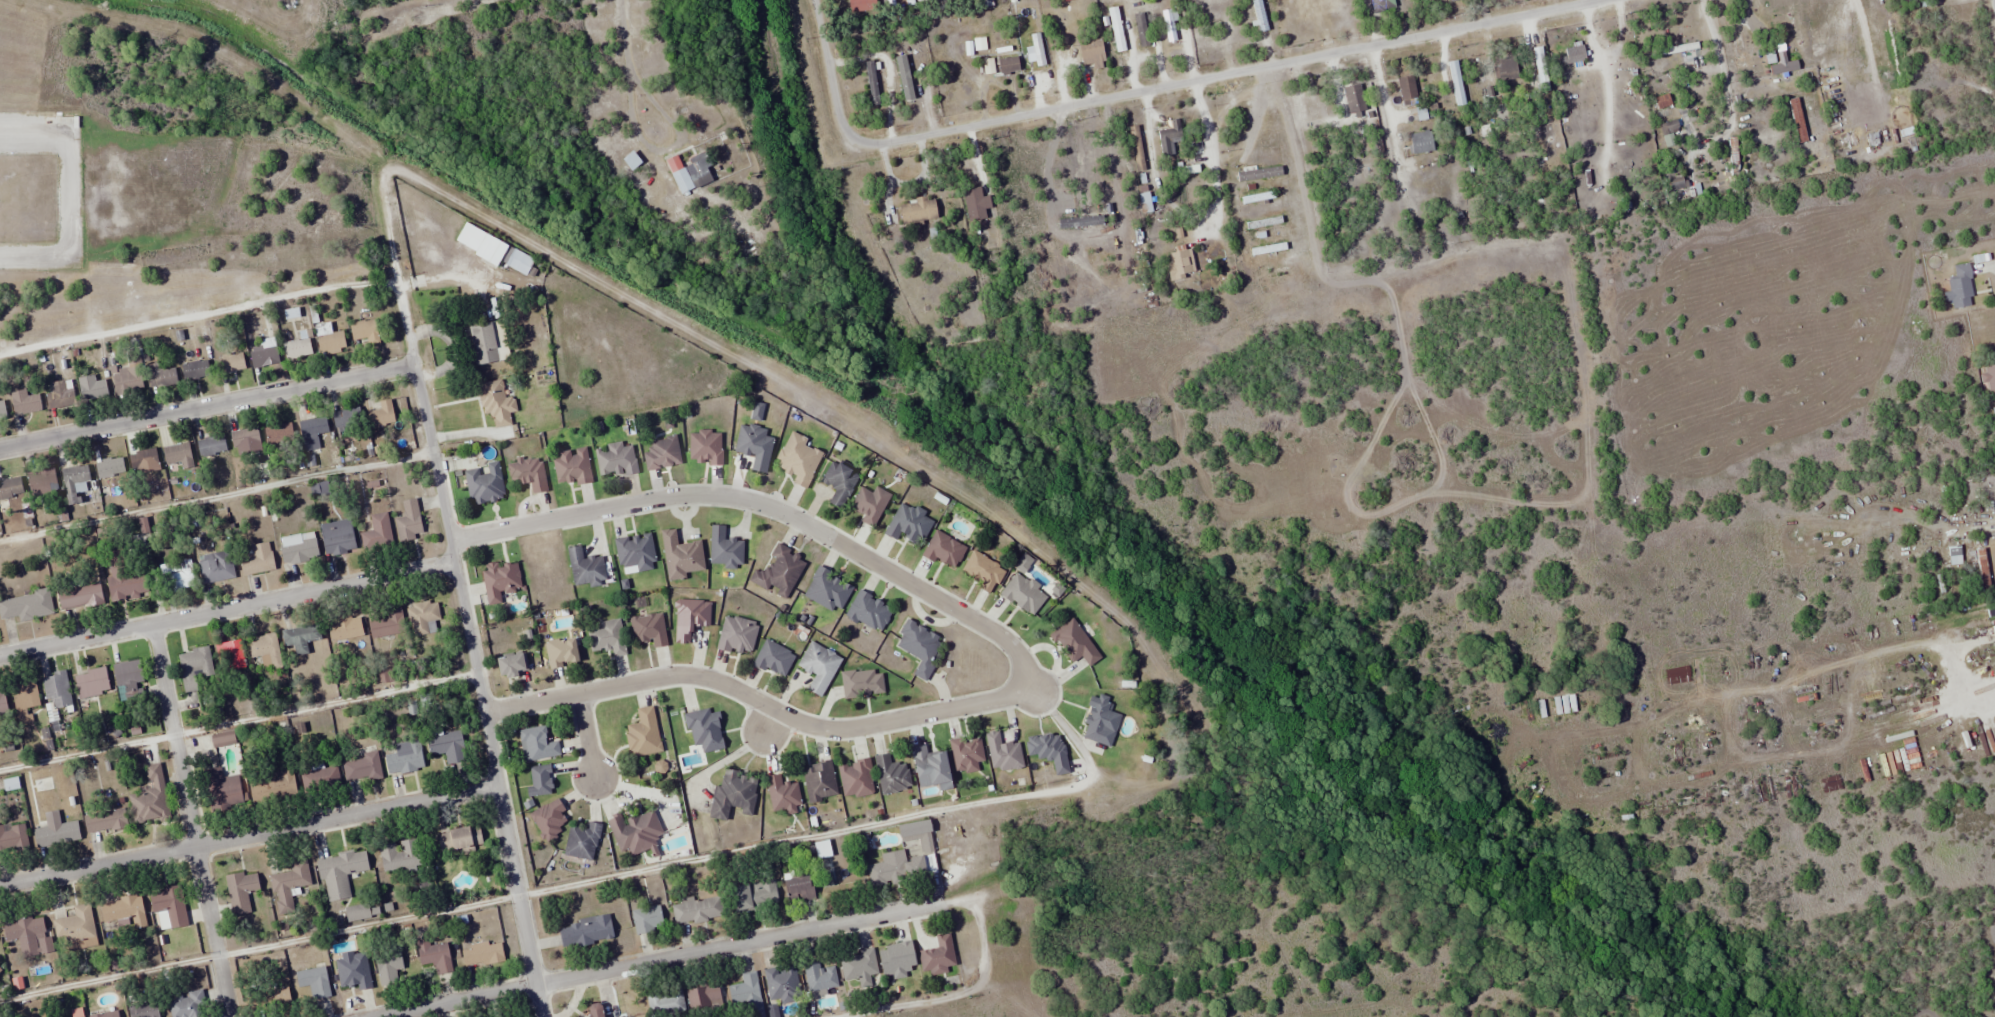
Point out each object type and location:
building: (1383, 5)
road: (817, 15)
building: (1795, 23)
building: (1848, 44)
building: (1739, 51)
building: (1092, 53)
building: (1575, 54)
building: (1009, 65)
building: (989, 67)
building: (1506, 68)
building: (1541, 68)
building: (871, 80)
building: (1456, 82)
building: (906, 83)
road: (1175, 85)
building: (1408, 90)
building: (1354, 99)
building: (1169, 137)
building: (1421, 142)
building: (1137, 148)
road: (1209, 155)
building: (700, 167)
building: (1259, 173)
building: (1580, 177)
building: (682, 180)
road: (70, 191)
building: (1145, 203)
building: (976, 204)
building: (919, 210)
building: (519, 262)
building: (1180, 265)
building: (1277, 271)
building: (1960, 287)
road: (405, 325)
building: (366, 331)
building: (329, 337)
building: (485, 343)
building: (298, 349)
building: (265, 355)
building: (231, 363)
building: (195, 370)
building: (160, 376)
building: (127, 380)
building: (92, 388)
building: (60, 394)
building: (25, 402)
building: (496, 402)
road: (206, 406)
building: (2, 409)
building: (381, 415)
building: (347, 418)
building: (314, 427)
building: (279, 433)
building: (245, 437)
building: (211, 445)
building: (756, 446)
building: (705, 447)
building: (663, 453)
building: (180, 455)
building: (144, 459)
building: (798, 459)
building: (615, 460)
building: (572, 467)
building: (109, 472)
building: (528, 474)
building: (76, 480)
building: (42, 482)
building: (839, 482)
building: (484, 484)
building: (11, 488)
road: (762, 504)
building: (3, 509)
building: (409, 521)
building: (908, 524)
building: (377, 532)
building: (337, 537)
building: (298, 548)
building: (634, 549)
building: (724, 549)
building: (944, 550)
building: (681, 556)
building: (256, 559)
building: (216, 567)
building: (585, 568)
building: (982, 570)
building: (779, 573)
building: (175, 576)
building: (500, 580)
building: (127, 586)
building: (828, 590)
building: (1023, 594)
building: (80, 597)
building: (26, 606)
road: (227, 609)
building: (869, 612)
building: (422, 617)
building: (690, 618)
building: (386, 623)
building: (345, 628)
building: (1994, 628)
building: (649, 629)
building: (737, 635)
building: (302, 637)
building: (607, 637)
building: (1075, 643)
building: (918, 647)
building: (264, 651)
building: (563, 652)
building: (774, 659)
building: (230, 661)
building: (513, 665)
building: (194, 667)
building: (819, 667)
building: (130, 681)
building: (92, 683)
building: (862, 683)
building: (57, 689)
road: (479, 690)
building: (25, 700)
road: (760, 702)
building: (3, 704)
building: (1101, 721)
road: (767, 724)
building: (705, 730)
building: (644, 734)
road: (585, 736)
building: (222, 739)
building: (537, 744)
building: (447, 745)
building: (1004, 754)
building: (967, 755)
building: (404, 758)
building: (363, 768)
building: (932, 769)
building: (891, 775)
building: (856, 778)
building: (320, 779)
building: (540, 781)
building: (819, 782)
building: (272, 787)
building: (222, 790)
building: (733, 795)
building: (782, 795)
building: (151, 798)
building: (550, 818)
building: (105, 820)
road: (189, 821)
building: (628, 833)
building: (56, 834)
road: (248, 836)
building: (13, 838)
building: (459, 838)
building: (582, 842)
building: (400, 855)
building: (897, 869)
building: (340, 873)
building: (289, 886)
building: (800, 888)
building: (241, 892)
building: (755, 896)
building: (169, 908)
building: (697, 910)
building: (123, 912)
building: (647, 920)
building: (75, 925)
building: (586, 932)
building: (28, 935)
building: (482, 954)
building: (938, 954)
building: (435, 956)
building: (897, 959)
road: (660, 960)
building: (388, 966)
building: (859, 967)
building: (353, 972)
building: (820, 977)
building: (314, 982)
building: (782, 984)
building: (746, 993)
building: (704, 997)
building: (271, 998)
building: (665, 1002)
building: (187, 1005)
building: (144, 1010)
building: (596, 1011)
building: (77, 1012)
building: (106, 1014)

